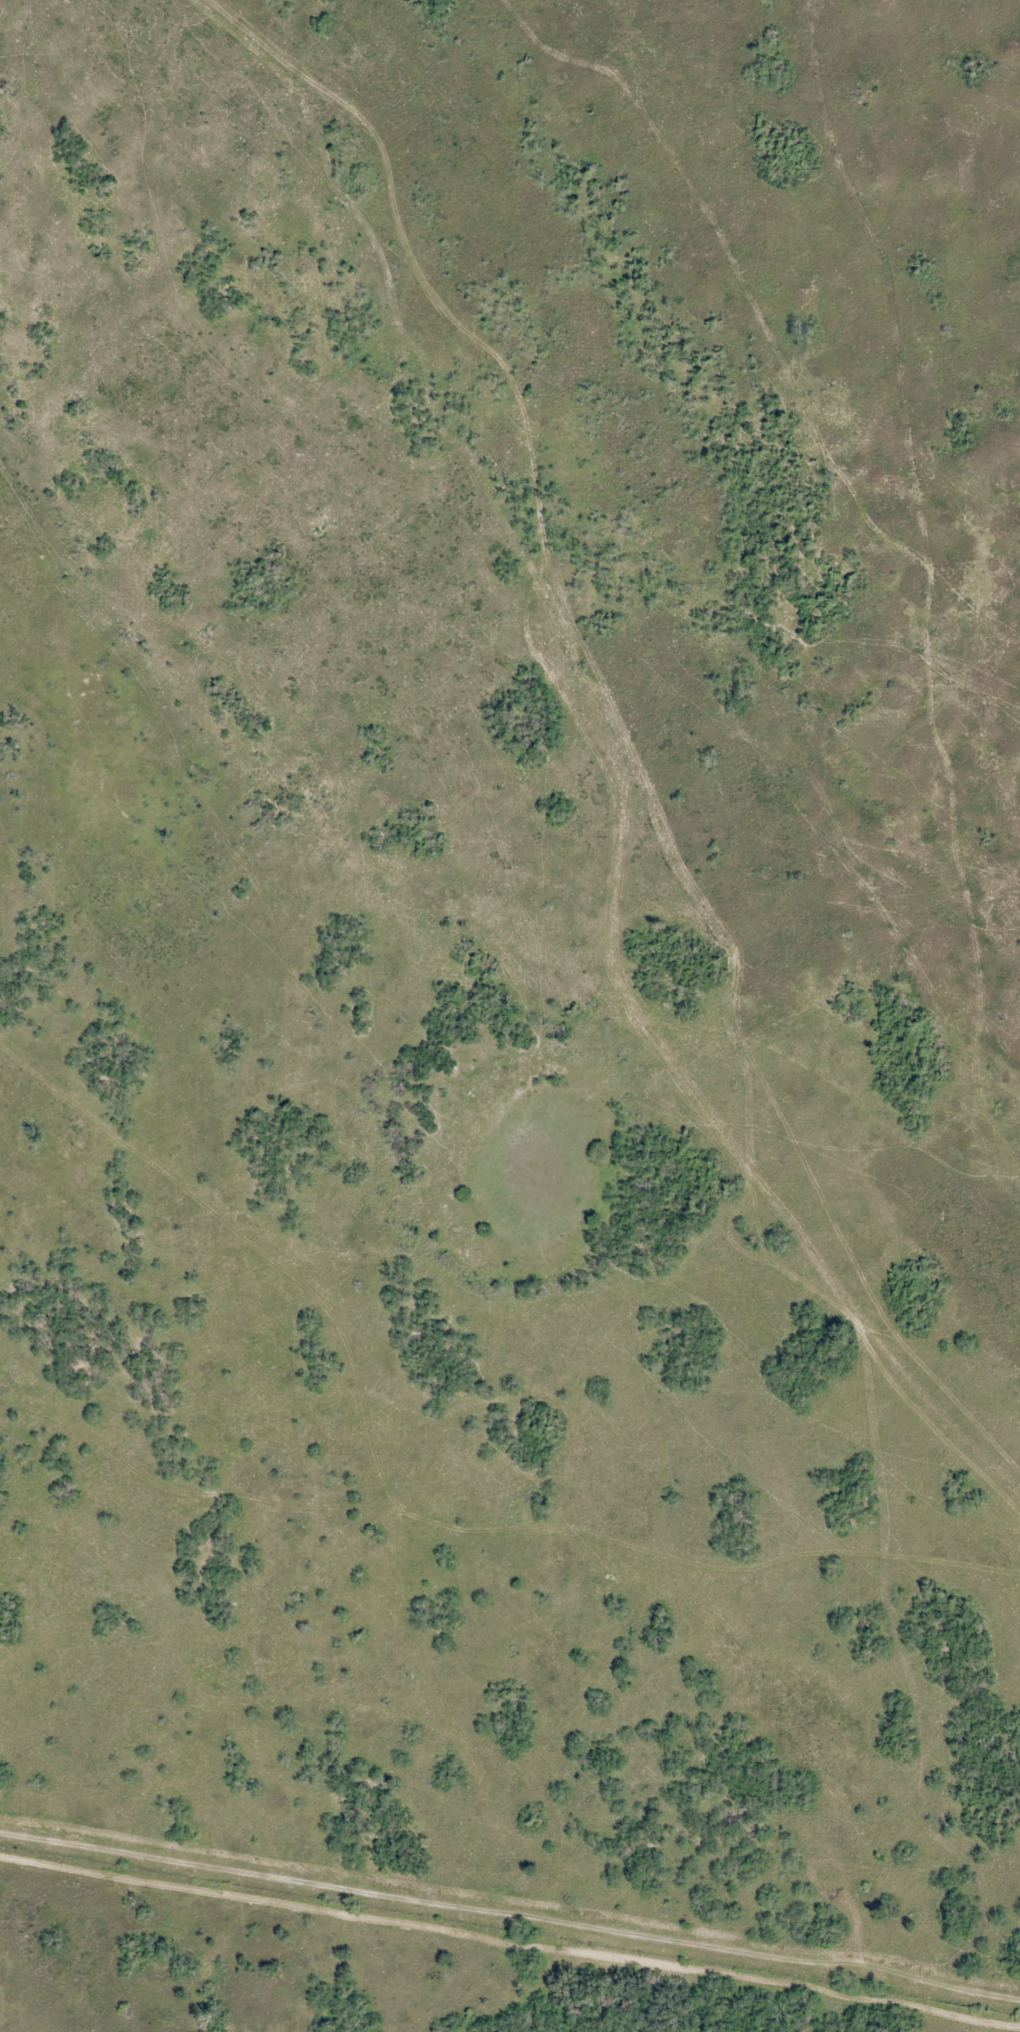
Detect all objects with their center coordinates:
road: (510, 1902)

